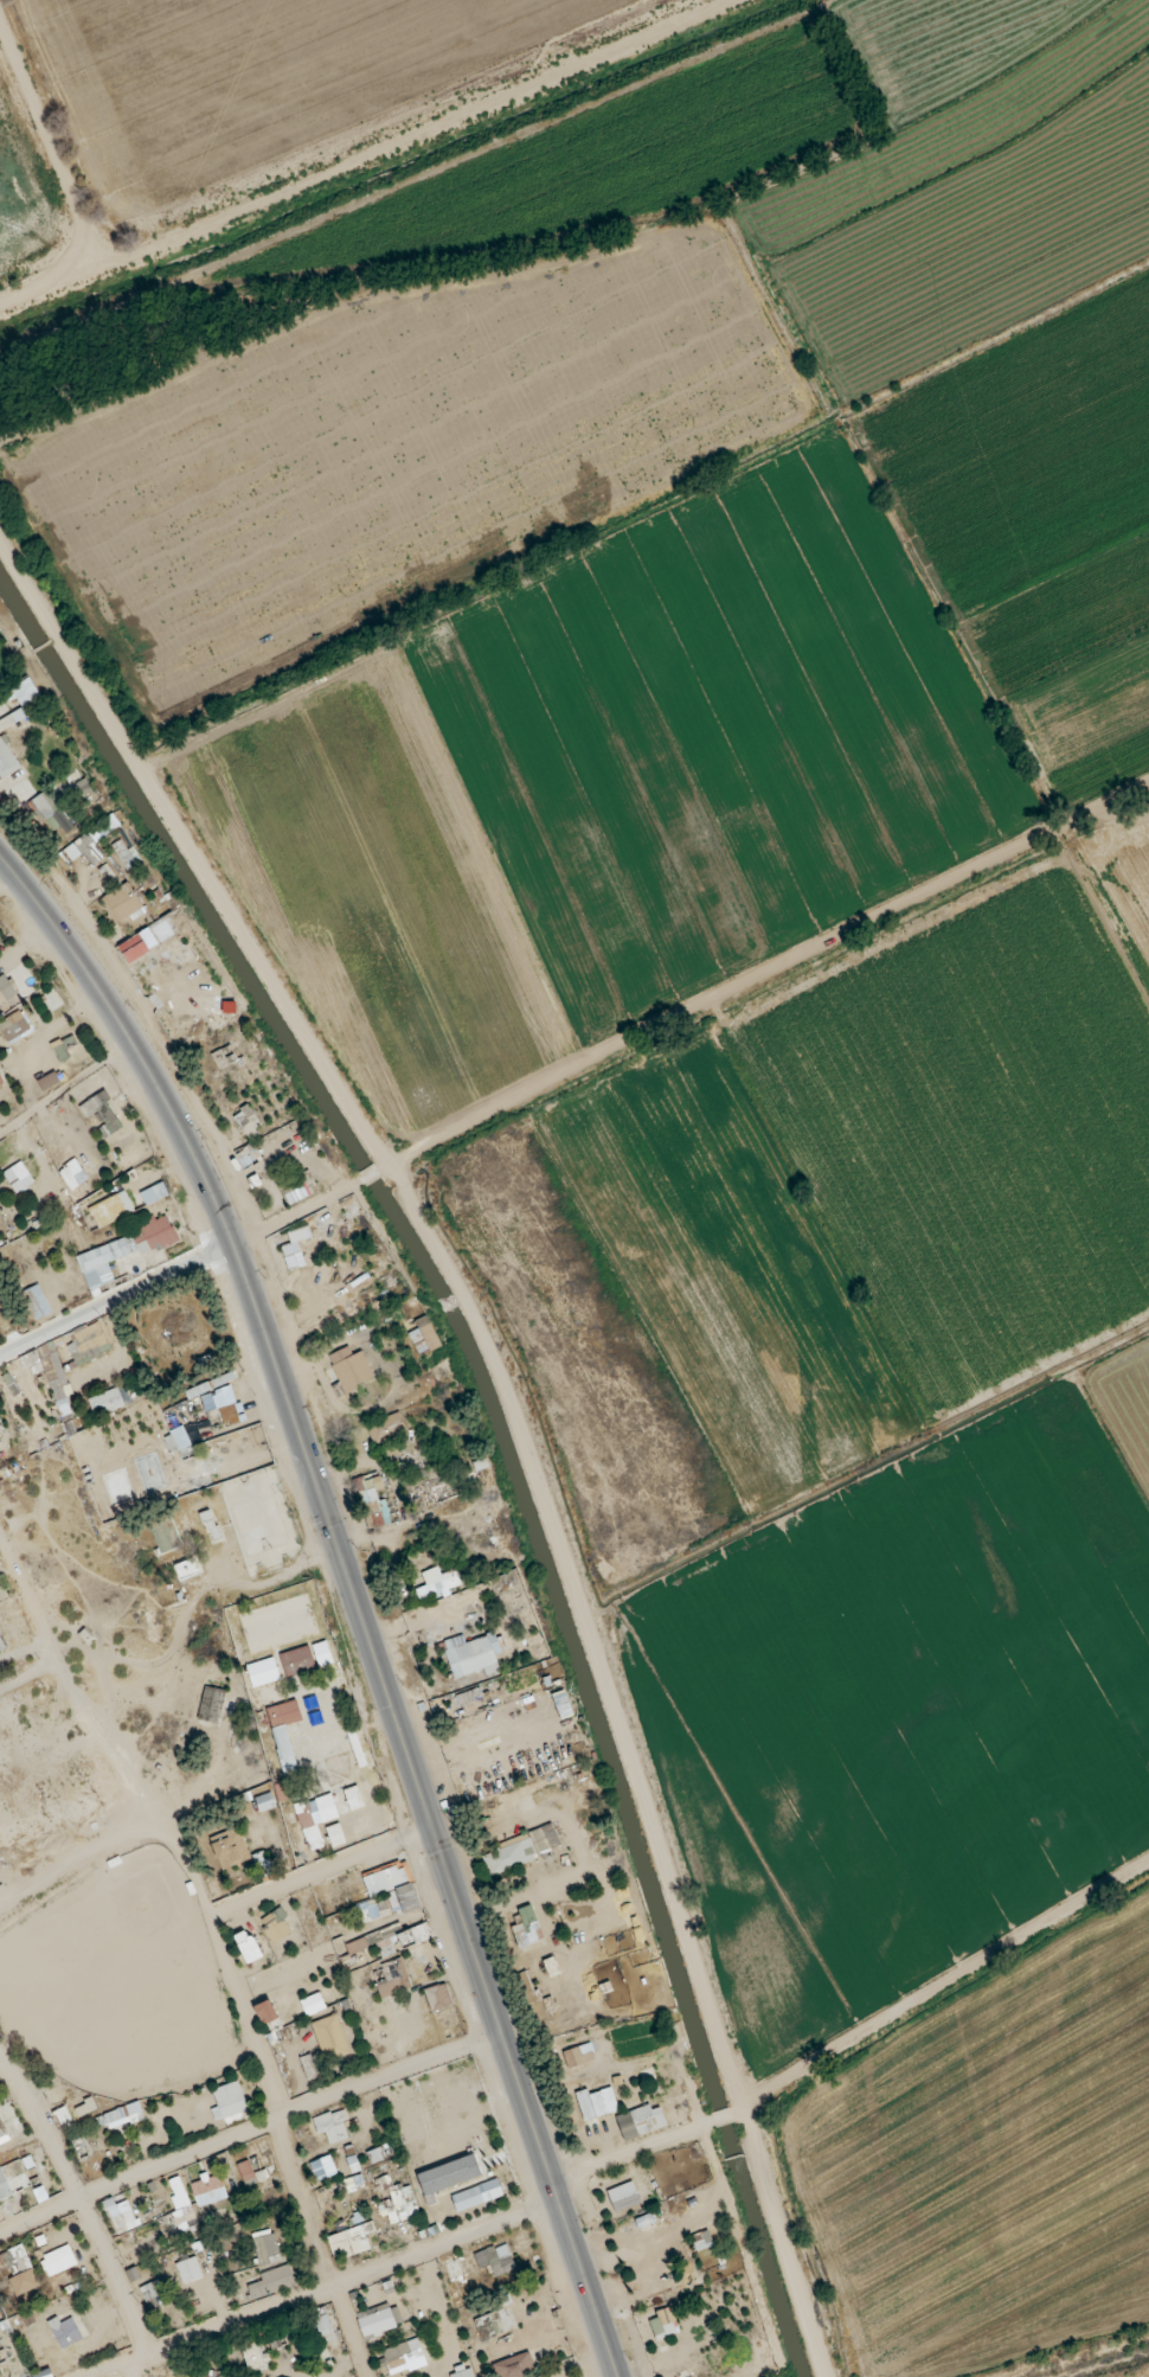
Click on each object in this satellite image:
park: (118, 1985)

